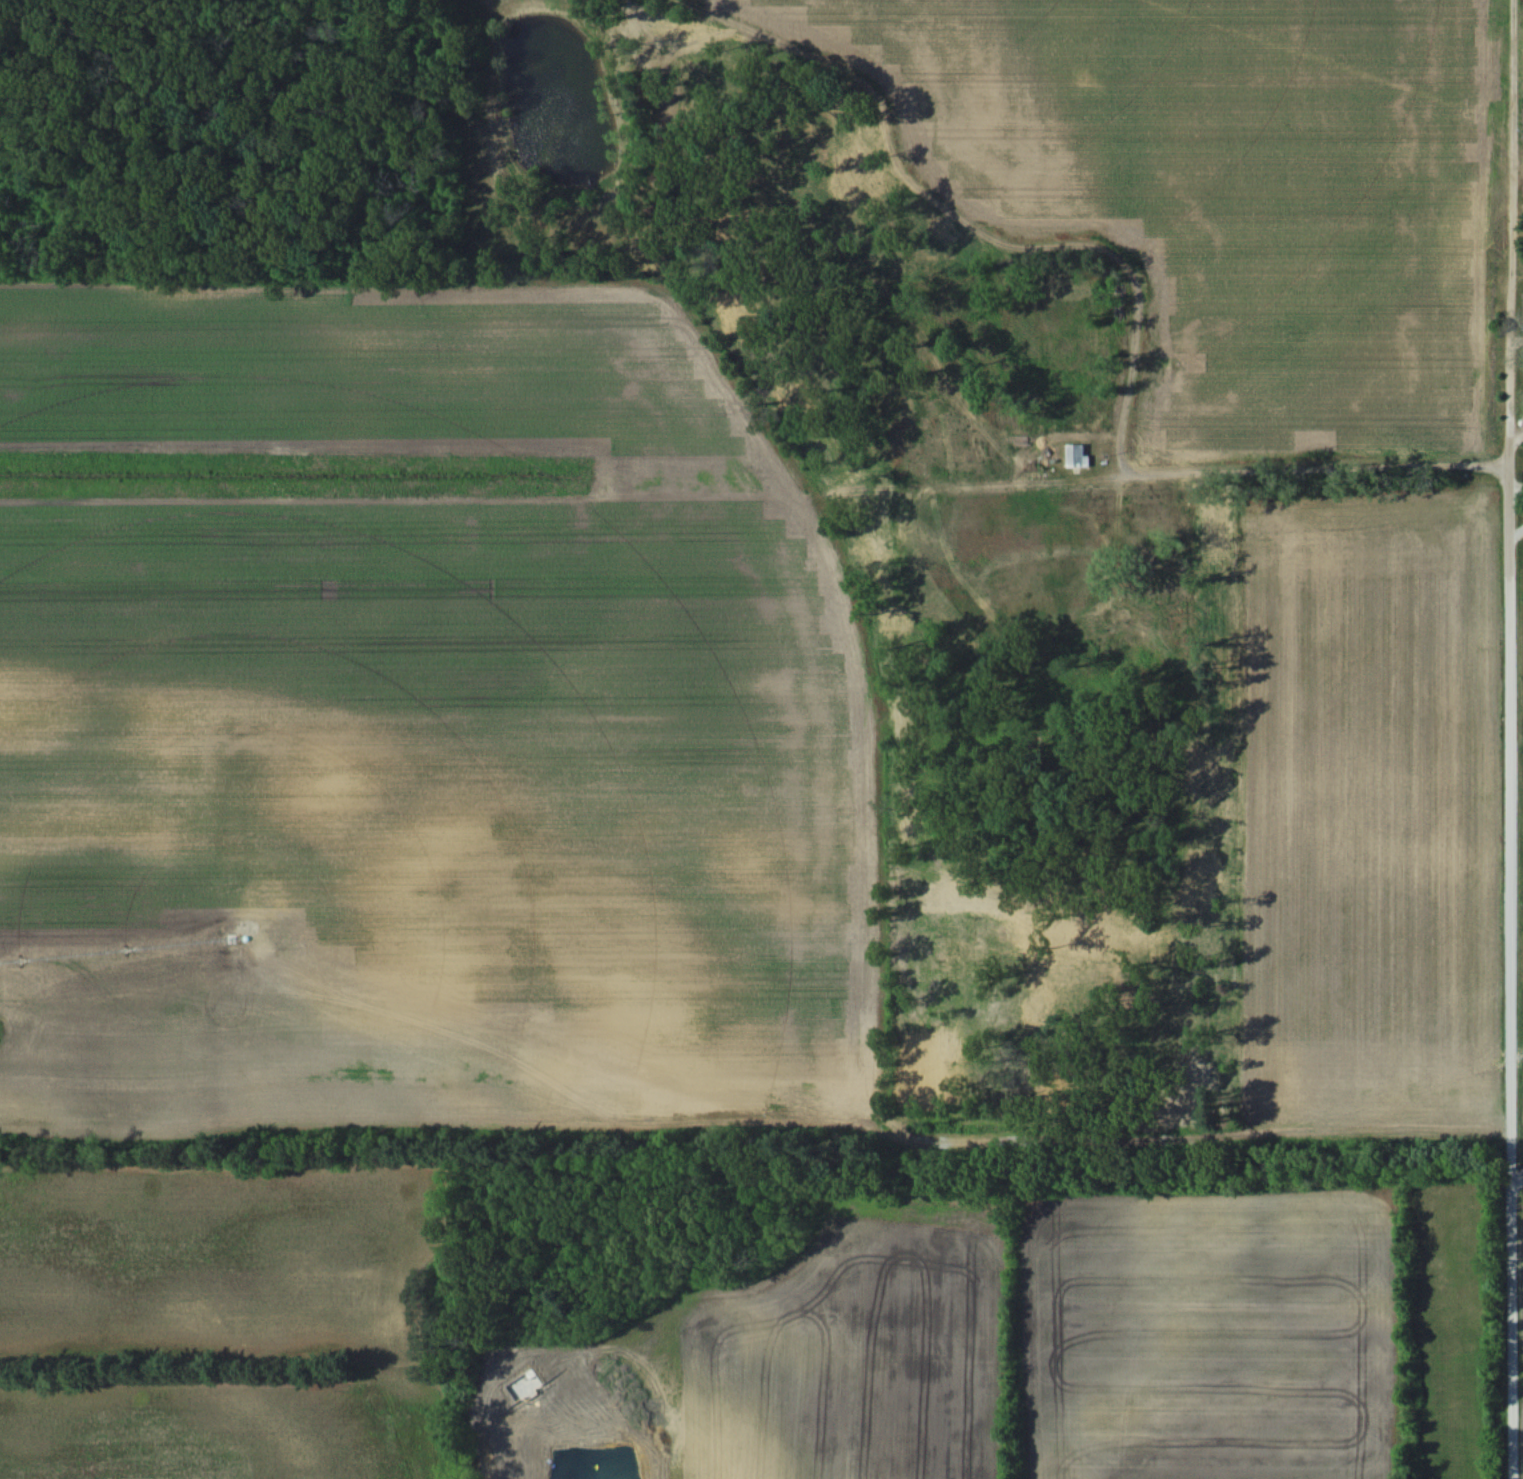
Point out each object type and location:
building: (1076, 455)
road: (1506, 462)
road: (1310, 466)
road: (1505, 975)

